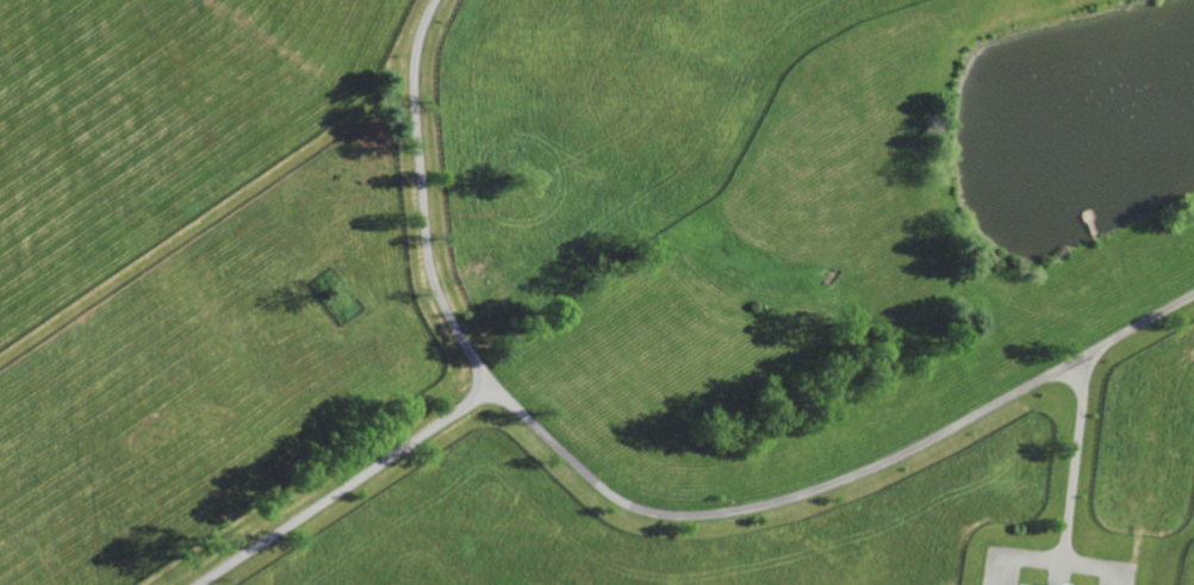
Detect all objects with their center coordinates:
road: (1071, 460)
road: (346, 485)
road: (642, 510)
building: (1056, 583)
building: (1022, 584)

